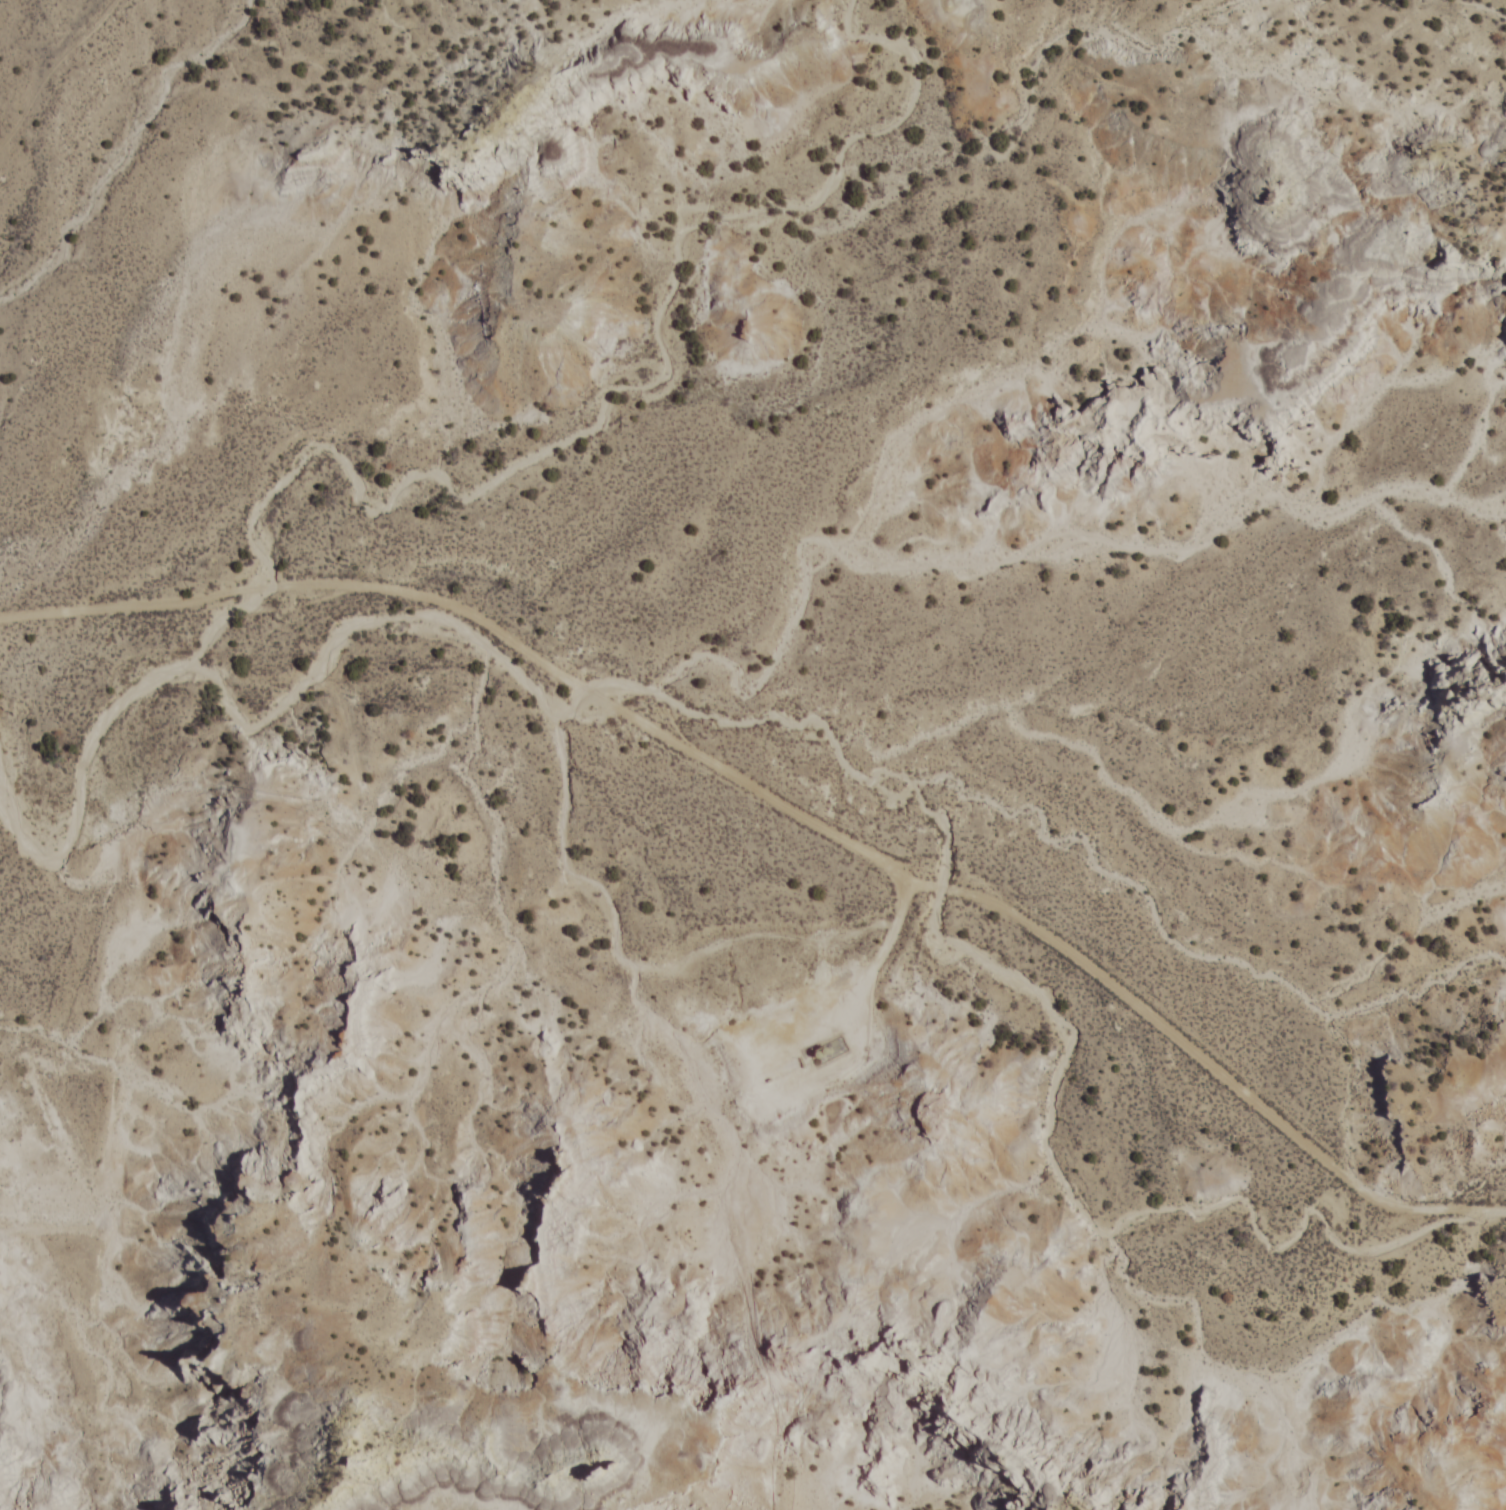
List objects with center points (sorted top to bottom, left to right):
river: (112, 789)

